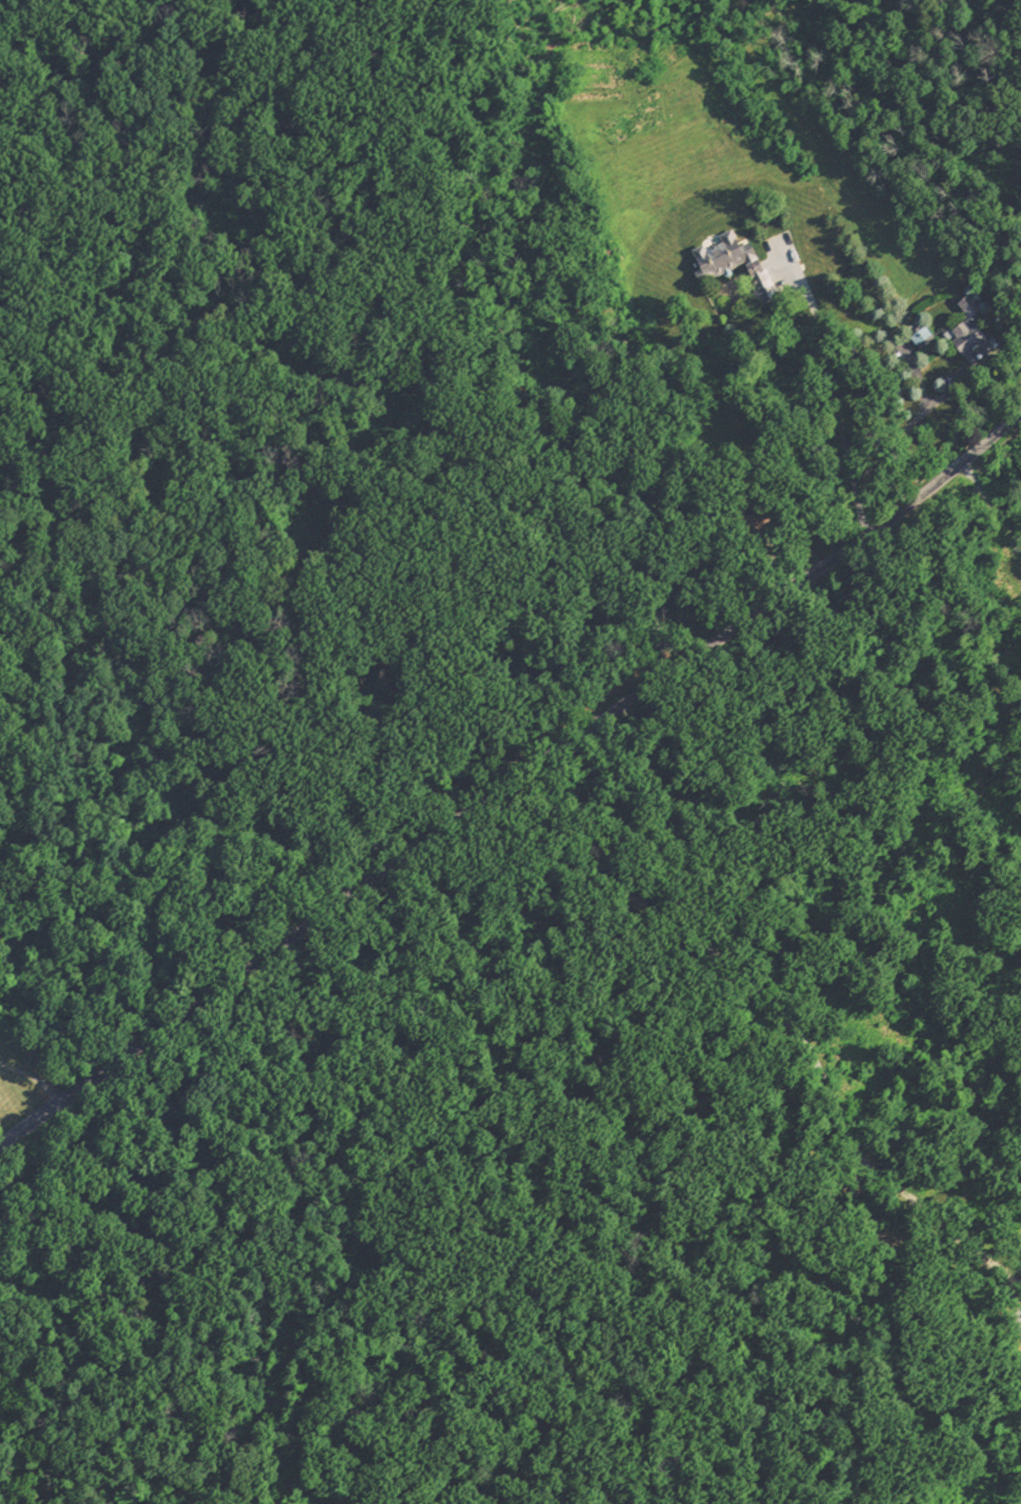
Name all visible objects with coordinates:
building: (738, 266)
building: (931, 340)
building: (979, 340)
road: (836, 410)
road: (512, 781)
road: (554, 846)
road: (822, 1090)
road: (1000, 1409)

